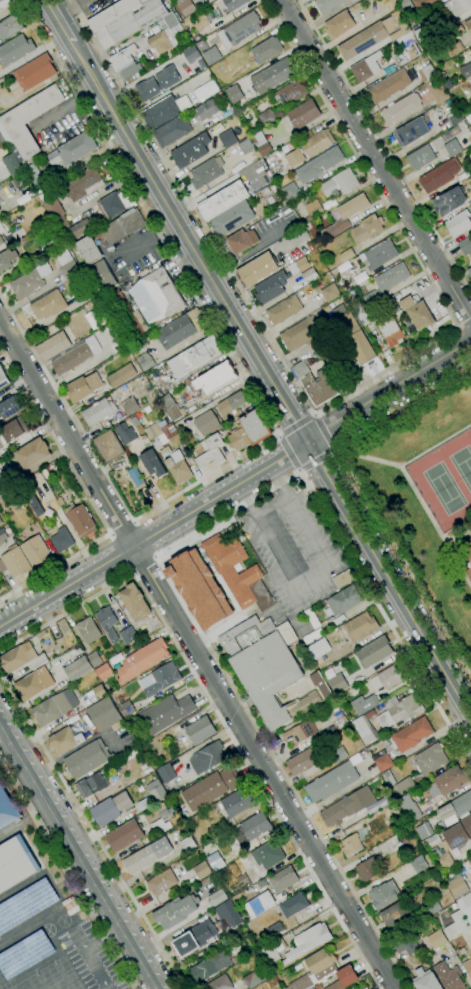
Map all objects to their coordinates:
building: (393, 0)
building: (1, 1)
building: (5, 3)
building: (235, 4)
building: (422, 4)
building: (327, 5)
building: (405, 5)
building: (186, 6)
building: (457, 7)
building: (113, 14)
road: (58, 20)
building: (131, 23)
building: (340, 23)
building: (468, 25)
building: (10, 27)
building: (239, 30)
building: (165, 34)
building: (422, 34)
building: (363, 40)
building: (16, 49)
building: (406, 49)
building: (453, 49)
building: (265, 51)
building: (191, 54)
building: (212, 55)
building: (125, 63)
building: (366, 67)
building: (466, 70)
building: (34, 72)
building: (427, 73)
building: (273, 75)
building: (157, 83)
building: (389, 86)
building: (437, 91)
building: (290, 92)
building: (233, 93)
building: (401, 109)
building: (206, 110)
building: (164, 111)
building: (302, 114)
building: (269, 116)
building: (454, 117)
building: (28, 120)
building: (172, 131)
building: (411, 132)
building: (227, 139)
building: (316, 141)
building: (2, 142)
building: (261, 144)
road: (383, 147)
building: (76, 148)
building: (452, 148)
building: (190, 151)
building: (421, 157)
building: (295, 158)
road: (376, 158)
building: (12, 164)
building: (319, 165)
building: (205, 173)
building: (252, 175)
building: (439, 176)
building: (340, 183)
building: (83, 184)
building: (290, 192)
building: (223, 200)
building: (448, 201)
building: (115, 204)
building: (313, 209)
building: (56, 213)
building: (344, 216)
building: (232, 218)
building: (459, 223)
building: (120, 227)
building: (80, 228)
building: (368, 228)
building: (1, 241)
building: (238, 243)
building: (465, 245)
building: (89, 250)
road: (247, 252)
building: (379, 255)
building: (7, 259)
building: (68, 266)
building: (257, 270)
building: (302, 270)
building: (469, 271)
building: (391, 277)
building: (100, 278)
building: (29, 282)
building: (73, 285)
building: (271, 288)
building: (330, 292)
building: (156, 296)
building: (372, 299)
building: (48, 305)
building: (284, 310)
building: (417, 313)
building: (127, 314)
building: (95, 318)
road: (464, 323)
building: (181, 329)
building: (388, 330)
building: (302, 334)
building: (353, 335)
building: (53, 346)
building: (195, 356)
building: (72, 359)
building: (145, 361)
building: (301, 370)
building: (121, 376)
building: (215, 378)
road: (270, 378)
building: (3, 379)
building: (83, 387)
building: (319, 388)
road: (389, 391)
road: (342, 396)
road: (257, 400)
building: (167, 401)
building: (232, 403)
building: (10, 407)
building: (99, 411)
building: (175, 412)
road: (313, 415)
building: (207, 423)
road: (296, 426)
building: (168, 429)
building: (12, 431)
building: (249, 431)
road: (322, 432)
building: (125, 433)
road: (278, 436)
building: (156, 442)
road: (435, 445)
building: (108, 446)
road: (334, 450)
building: (211, 451)
building: (165, 452)
road: (288, 452)
building: (32, 454)
road: (289, 454)
road: (315, 459)
building: (152, 463)
park: (462, 466)
building: (178, 467)
building: (141, 468)
road: (299, 470)
building: (136, 478)
road: (247, 479)
park: (442, 488)
road: (412, 489)
road: (363, 495)
road: (86, 496)
building: (30, 497)
park: (427, 498)
building: (81, 520)
road: (179, 520)
building: (0, 522)
road: (120, 526)
building: (6, 535)
building: (62, 540)
building: (36, 551)
building: (224, 552)
road: (157, 556)
building: (14, 562)
road: (143, 564)
road: (458, 564)
road: (312, 579)
building: (343, 579)
road: (67, 586)
building: (248, 588)
building: (199, 589)
building: (344, 600)
building: (135, 602)
road: (65, 611)
building: (107, 623)
building: (360, 627)
building: (88, 630)
building: (128, 635)
building: (319, 649)
building: (374, 652)
road: (198, 653)
building: (22, 658)
building: (95, 659)
building: (142, 660)
building: (267, 668)
building: (78, 669)
building: (104, 671)
building: (387, 678)
building: (160, 680)
building: (337, 683)
building: (33, 684)
building: (320, 684)
building: (99, 692)
road: (3, 704)
building: (363, 704)
building: (54, 707)
building: (127, 709)
building: (402, 709)
building: (104, 713)
building: (166, 713)
road: (2, 714)
building: (200, 730)
building: (364, 730)
building: (300, 732)
building: (65, 741)
building: (401, 742)
building: (338, 755)
building: (207, 757)
building: (86, 759)
building: (430, 759)
building: (301, 761)
building: (166, 773)
building: (388, 778)
building: (334, 779)
road: (254, 780)
building: (449, 781)
building: (91, 785)
building: (404, 785)
building: (139, 786)
building: (211, 788)
building: (156, 791)
building: (238, 802)
building: (347, 806)
building: (456, 806)
building: (409, 808)
building: (7, 809)
building: (111, 809)
building: (162, 819)
building: (255, 826)
building: (424, 831)
road: (92, 833)
building: (125, 835)
building: (366, 836)
building: (452, 841)
building: (187, 844)
road: (85, 851)
building: (268, 854)
building: (147, 855)
road: (76, 860)
building: (215, 861)
building: (15, 863)
building: (418, 864)
building: (368, 869)
building: (201, 870)
building: (470, 872)
road: (65, 876)
building: (283, 879)
building: (161, 882)
building: (240, 884)
building: (457, 886)
building: (384, 894)
building: (217, 898)
building: (25, 904)
building: (260, 904)
building: (295, 906)
building: (454, 906)
building: (465, 906)
building: (430, 907)
building: (176, 911)
building: (228, 914)
building: (396, 916)
building: (457, 924)
building: (275, 929)
building: (193, 939)
building: (437, 939)
road: (78, 941)
road: (101, 941)
building: (307, 942)
building: (405, 944)
building: (273, 951)
building: (24, 953)
building: (320, 963)
building: (210, 966)
building: (467, 967)
road: (96, 970)
park: (62, 975)
building: (254, 976)
building: (449, 976)
building: (344, 978)
park: (42, 980)
building: (426, 980)
building: (301, 983)
park: (22, 985)
building: (318, 986)
building: (364, 988)

